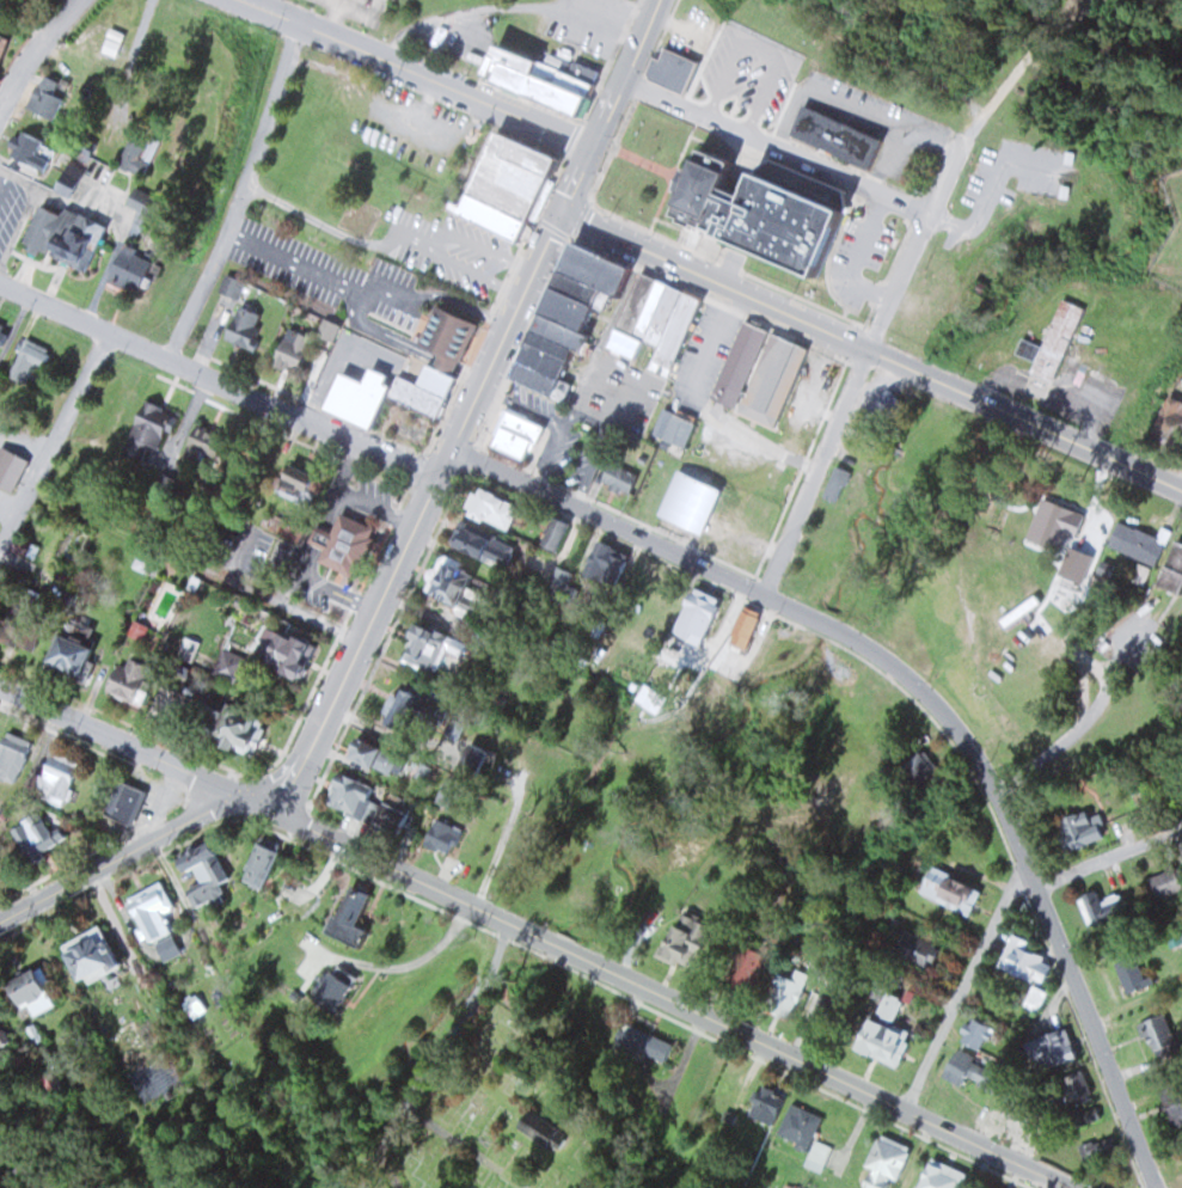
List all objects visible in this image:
road: (508, 6)
parking lot: (587, 23)
parking lot: (463, 33)
road: (32, 49)
building: (669, 69)
road: (421, 72)
building: (539, 80)
building: (741, 86)
building: (42, 97)
road: (610, 103)
building: (837, 139)
road: (777, 142)
building: (25, 149)
building: (137, 153)
building: (73, 167)
building: (503, 185)
road: (245, 192)
building: (748, 213)
wastewater plant: (1169, 231)
building: (62, 235)
building: (124, 269)
road: (901, 277)
building: (651, 322)
building: (241, 327)
building: (1049, 344)
building: (289, 349)
road: (871, 350)
building: (24, 361)
building: (437, 369)
building: (759, 376)
building: (823, 378)
road: (216, 379)
building: (1166, 422)
building: (672, 427)
building: (143, 429)
building: (513, 435)
road: (54, 440)
building: (10, 469)
building: (616, 477)
building: (293, 482)
building: (686, 502)
building: (484, 506)
road: (419, 509)
building: (1053, 525)
building: (550, 533)
building: (467, 541)
building: (1134, 541)
building: (341, 543)
building: (604, 563)
building: (1171, 569)
building: (443, 583)
building: (561, 586)
building: (645, 592)
building: (693, 610)
building: (1018, 611)
building: (745, 629)
building: (419, 645)
building: (69, 648)
building: (278, 653)
building: (128, 679)
road: (930, 696)
building: (408, 708)
building: (238, 730)
road: (136, 747)
building: (359, 753)
building: (11, 757)
building: (471, 760)
building: (914, 771)
building: (53, 778)
building: (1137, 788)
building: (345, 795)
building: (121, 802)
building: (388, 814)
building: (1076, 831)
building: (30, 833)
building: (439, 835)
road: (130, 849)
road: (1109, 858)
building: (257, 865)
building: (196, 874)
building: (1164, 882)
building: (948, 889)
building: (1096, 905)
building: (348, 912)
building: (147, 913)
building: (676, 944)
building: (914, 949)
building: (82, 955)
building: (742, 967)
building: (1024, 968)
building: (1131, 973)
building: (25, 985)
road: (964, 986)
building: (327, 991)
building: (782, 998)
road: (673, 1000)
building: (880, 1025)
building: (973, 1033)
building: (1155, 1033)
building: (641, 1040)
building: (1049, 1049)
building: (956, 1067)
building: (1073, 1085)
building: (1174, 1102)
building: (765, 1104)
building: (535, 1125)
building: (797, 1125)
building: (816, 1155)
building: (883, 1161)
building: (938, 1175)

